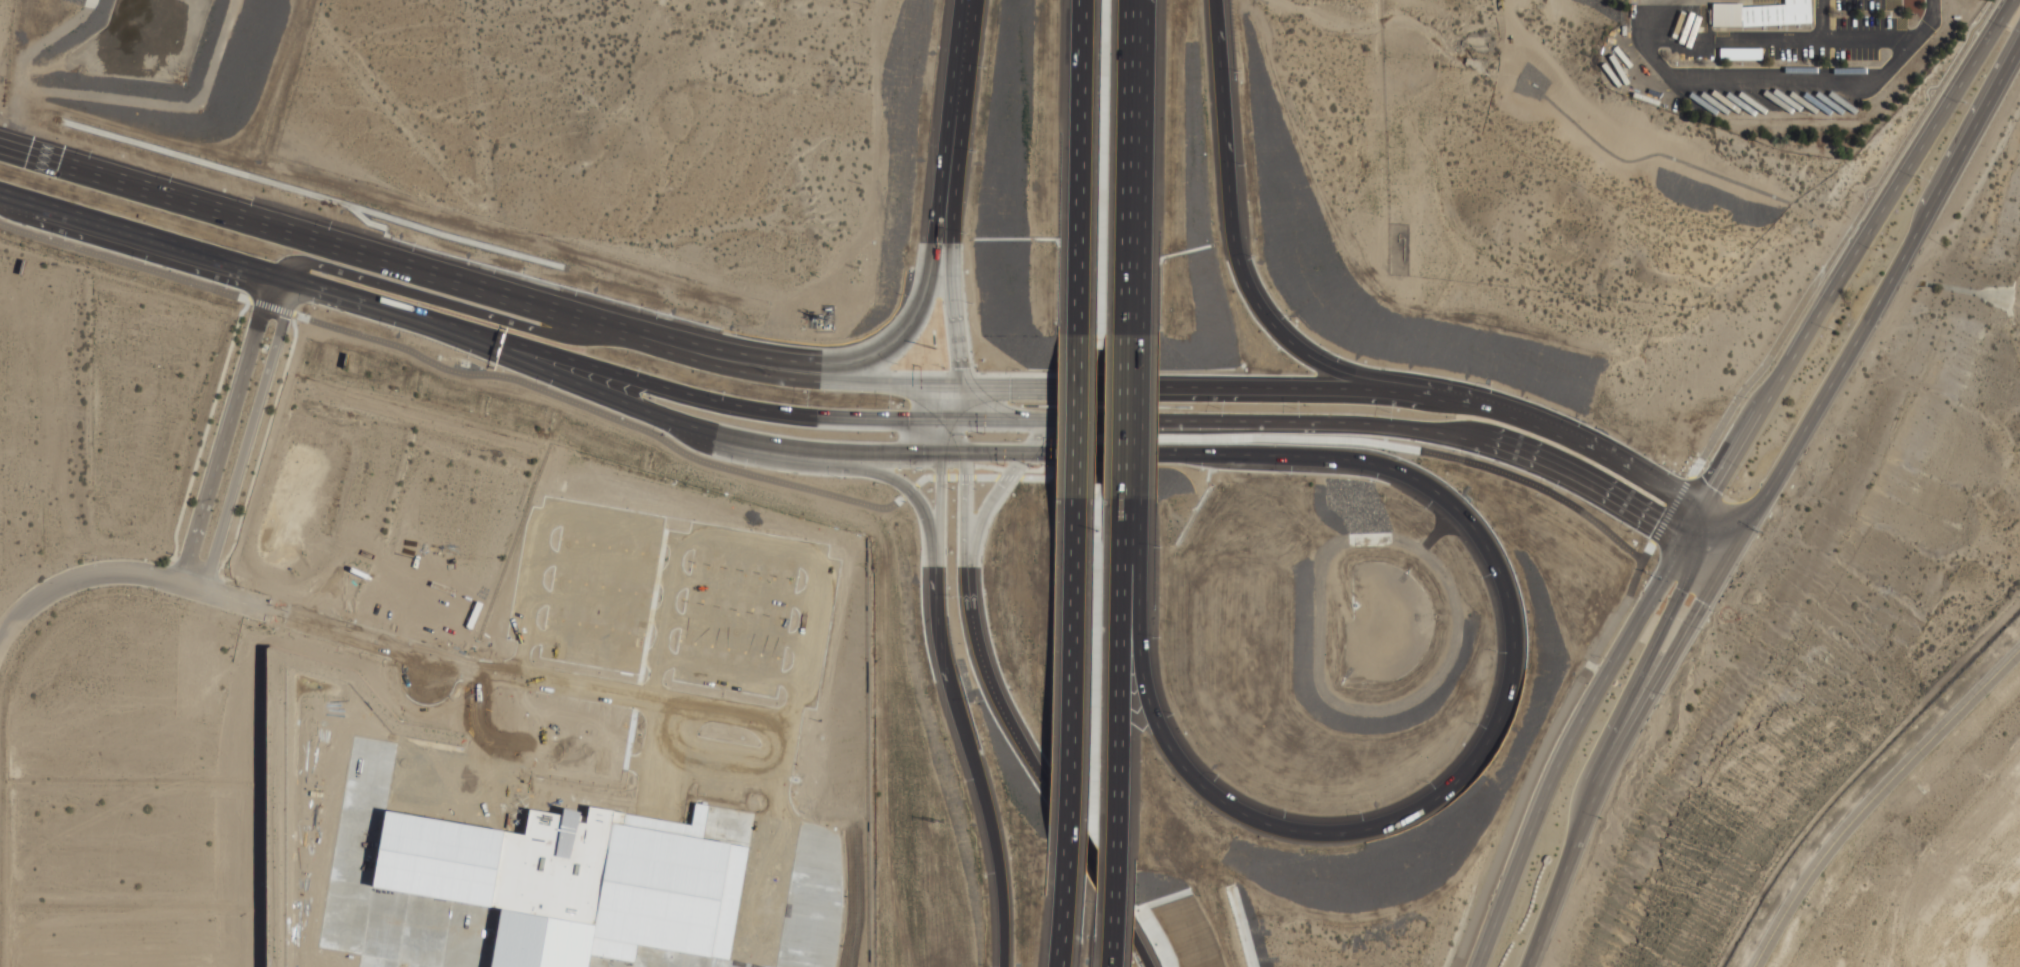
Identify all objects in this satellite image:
building: (1759, 13)
road: (1820, 20)
parking lot: (1805, 36)
road: (1778, 40)
building: (1740, 53)
road: (1772, 83)
road: (961, 95)
road: (1924, 139)
road: (1074, 166)
road: (1128, 167)
road: (1953, 170)
road: (21, 200)
road: (1232, 231)
road: (158, 242)
road: (440, 276)
road: (955, 289)
road: (449, 301)
road: (371, 304)
road: (856, 364)
road: (1094, 386)
road: (905, 387)
road: (948, 388)
traffic signals: (966, 388)
road: (891, 389)
road: (1036, 393)
road: (974, 395)
road: (1770, 398)
road: (705, 401)
road: (926, 402)
road: (1073, 402)
road: (964, 408)
road: (1474, 408)
road: (1016, 412)
road: (1122, 415)
traffic signals: (948, 422)
road: (998, 422)
road: (1066, 422)
road: (1152, 422)
road: (696, 429)
road: (1049, 429)
road: (226, 430)
road: (1802, 432)
road: (247, 437)
road: (940, 437)
road: (959, 437)
road: (203, 444)
road: (1485, 447)
traffic signals: (940, 455)
road: (953, 455)
traffic signals: (966, 455)
road: (995, 455)
traffic signals: (1025, 455)
road: (260, 459)
road: (817, 465)
road: (1696, 468)
road: (832, 497)
road: (989, 509)
traffic signals: (1702, 517)
road: (1721, 527)
road: (1693, 531)
traffic signals: (1740, 538)
road: (682, 541)
traffic signals: (1684, 546)
traffic signals: (1694, 552)
traffic signals: (1721, 572)
road: (91, 577)
road: (676, 581)
parking lot: (676, 602)
road: (670, 620)
road: (666, 622)
road: (317, 626)
road: (975, 629)
road: (1071, 630)
road: (662, 660)
road: (1641, 671)
road: (474, 673)
road: (1118, 680)
road: (654, 703)
road: (959, 712)
road: (1502, 714)
road: (1565, 749)
parking lot: (578, 756)
road: (601, 759)
road: (1609, 762)
road: (669, 763)
road: (1874, 797)
road: (1068, 816)
road: (1071, 826)
airport: (1915, 844)
road: (772, 846)
building: (571, 883)
road: (1114, 892)
road: (1116, 902)
road: (1063, 905)
road: (1113, 943)
road: (1144, 954)

